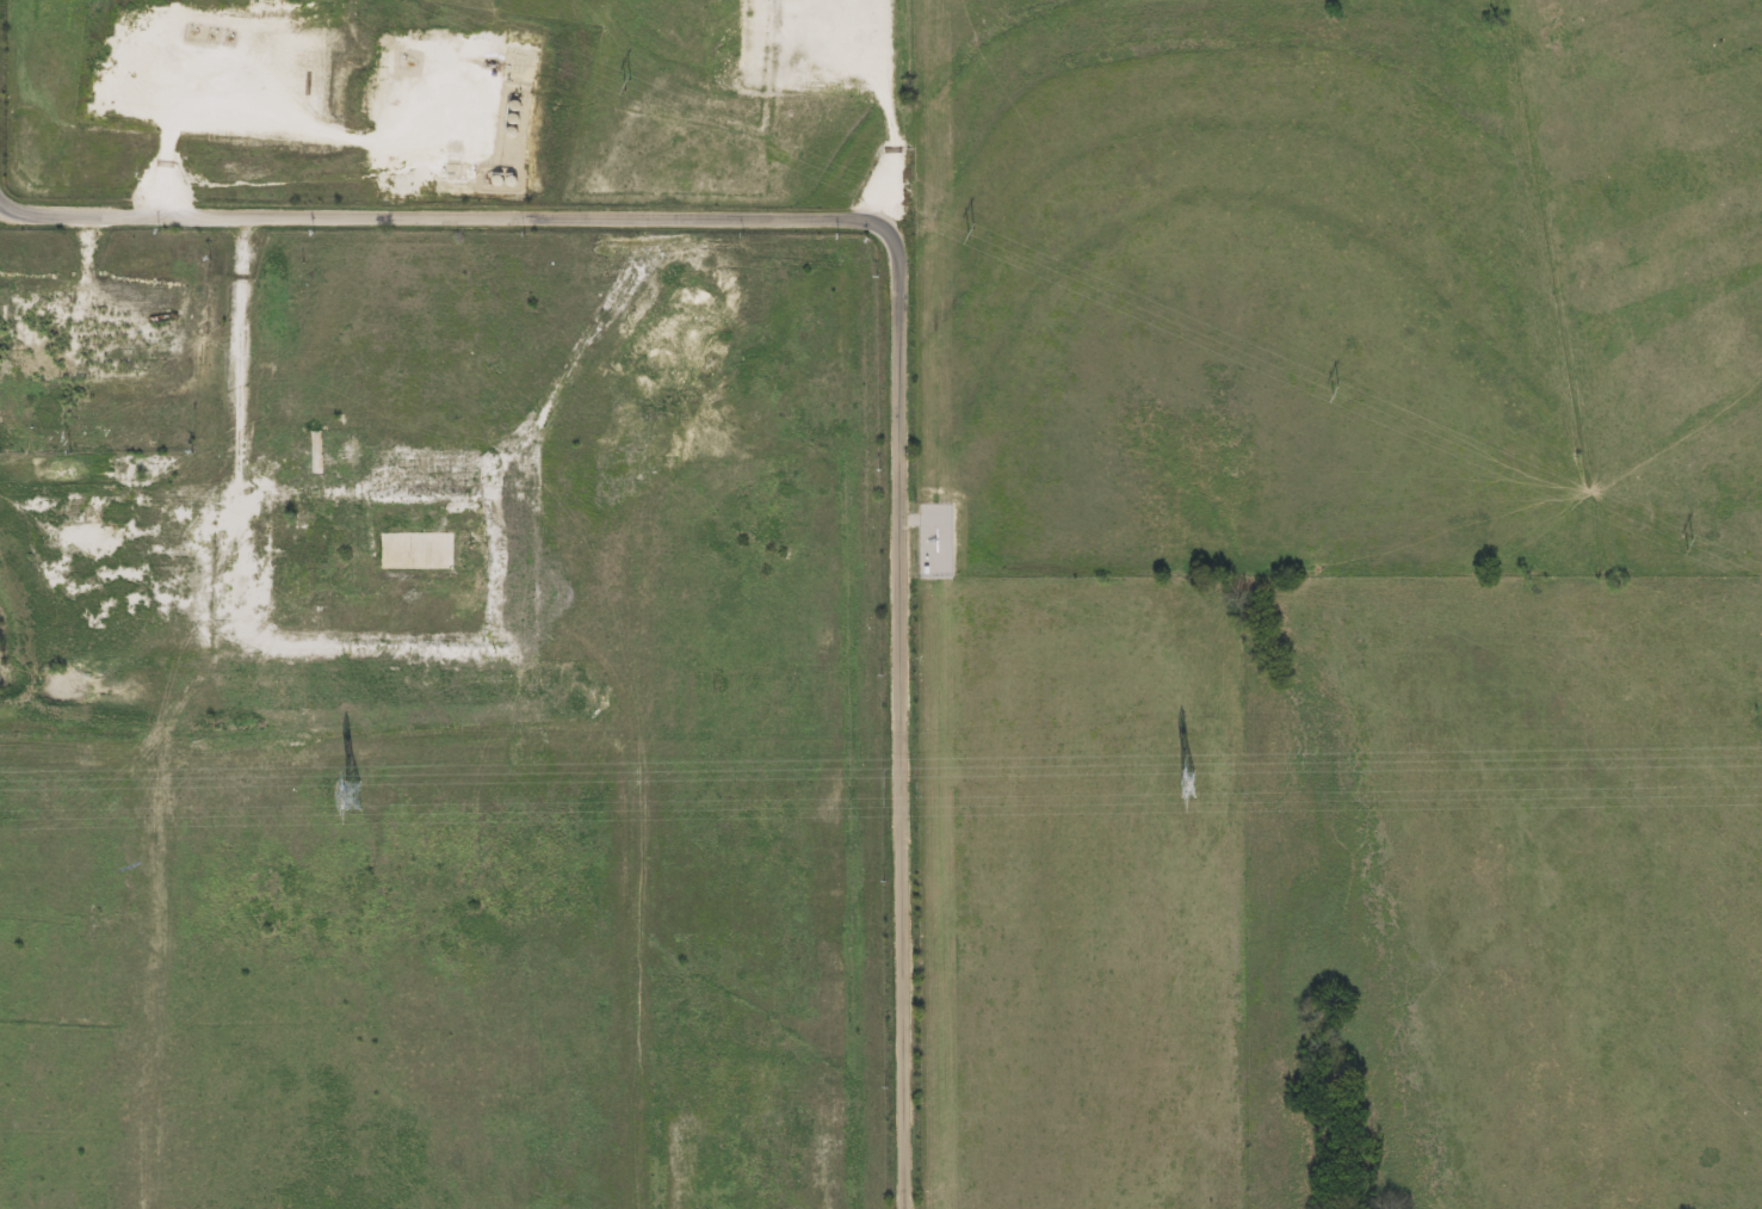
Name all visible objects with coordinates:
road: (834, 218)
building: (80, 422)
power tower: (1185, 784)
power tower: (347, 795)
road: (896, 1116)

